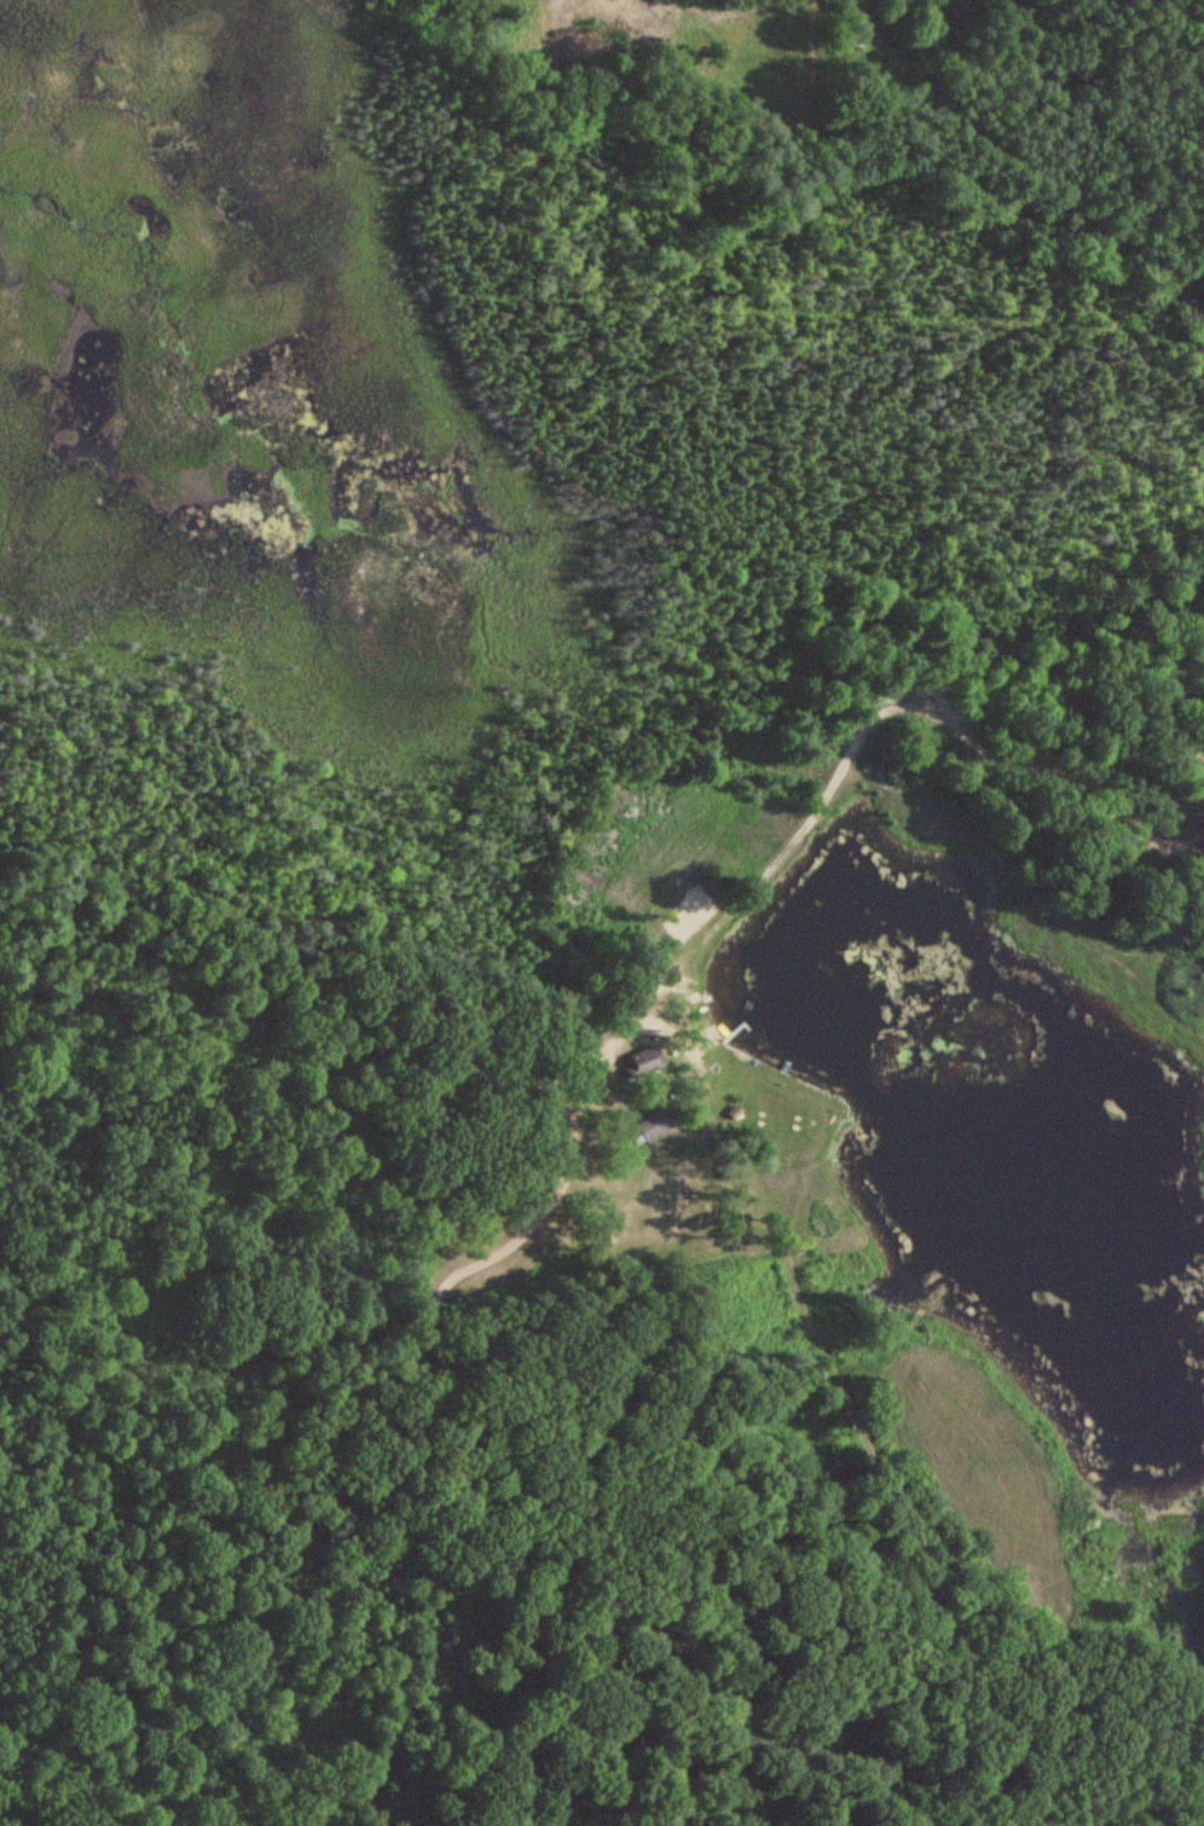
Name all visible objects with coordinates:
building: (643, 1065)
building: (648, 1128)

